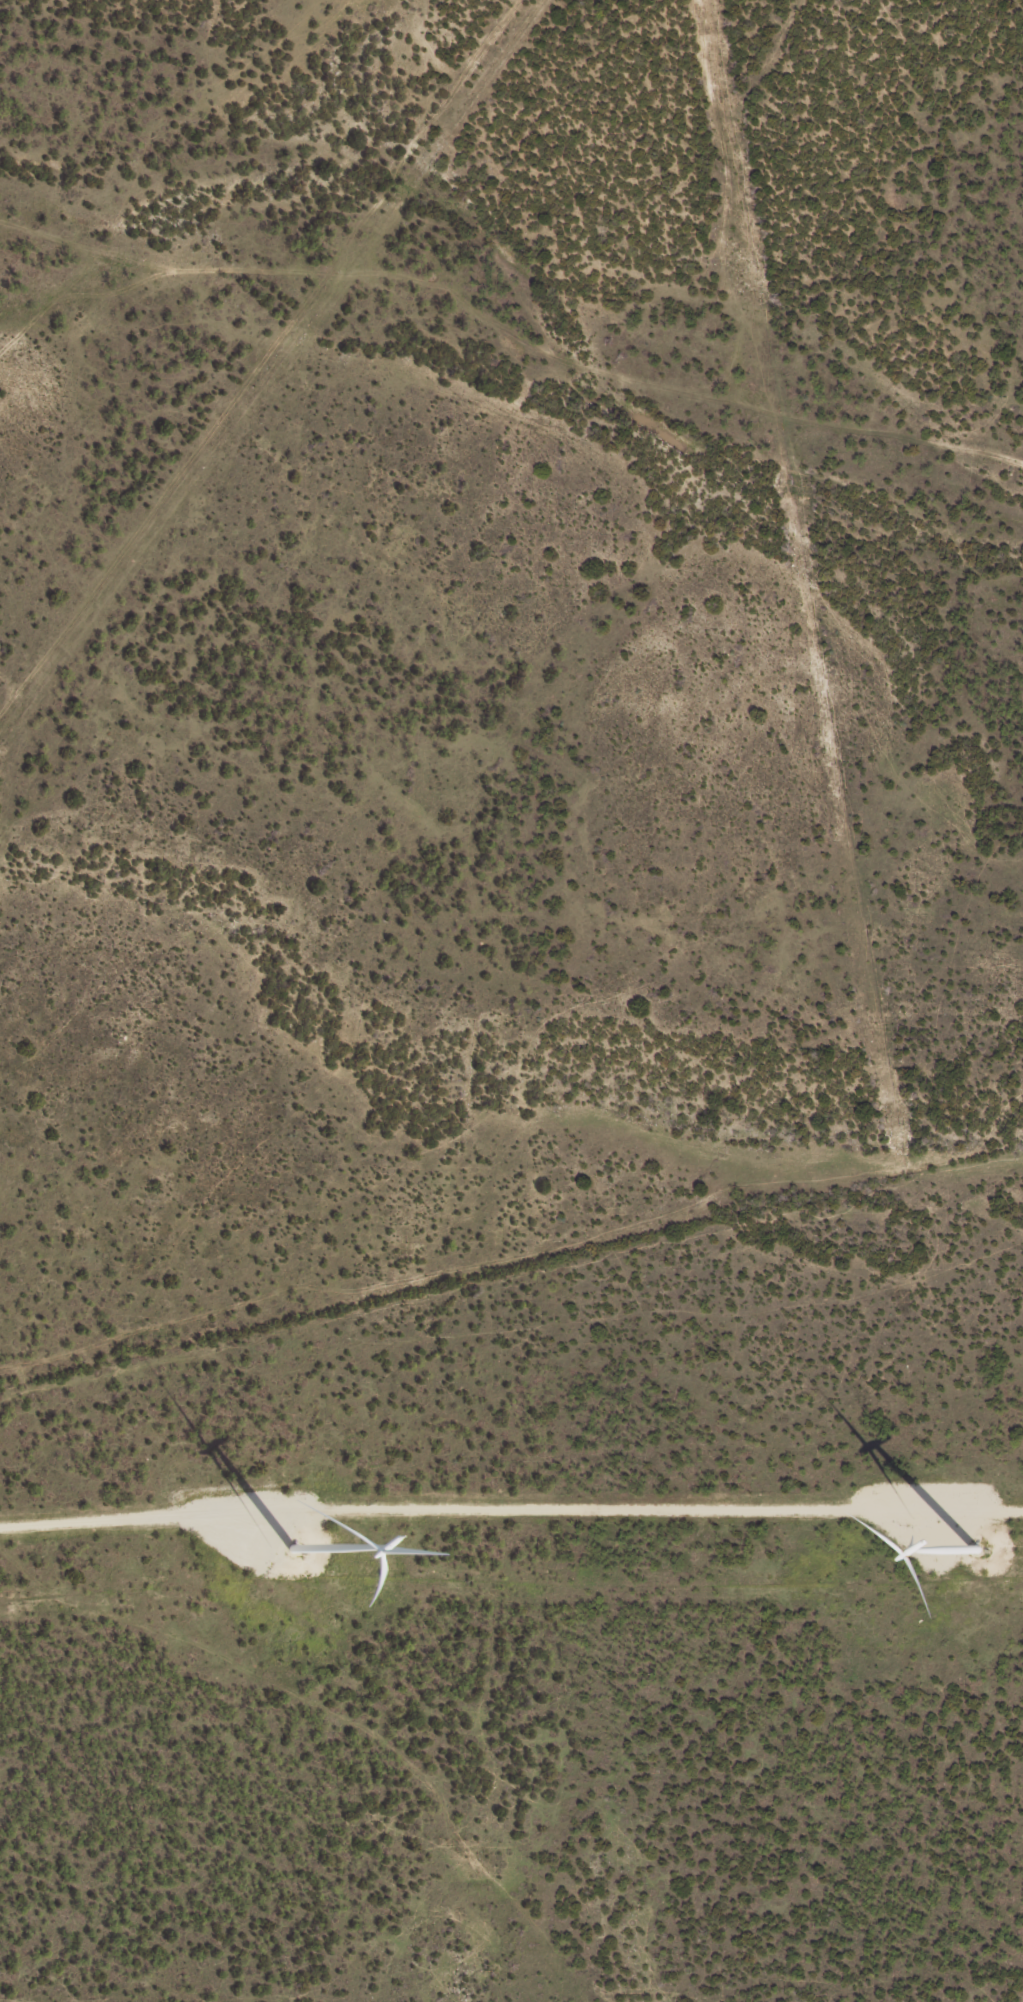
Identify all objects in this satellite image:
road: (549, 373)
road: (158, 619)
wind turbine: (983, 1536)
wind turbine: (298, 1550)

